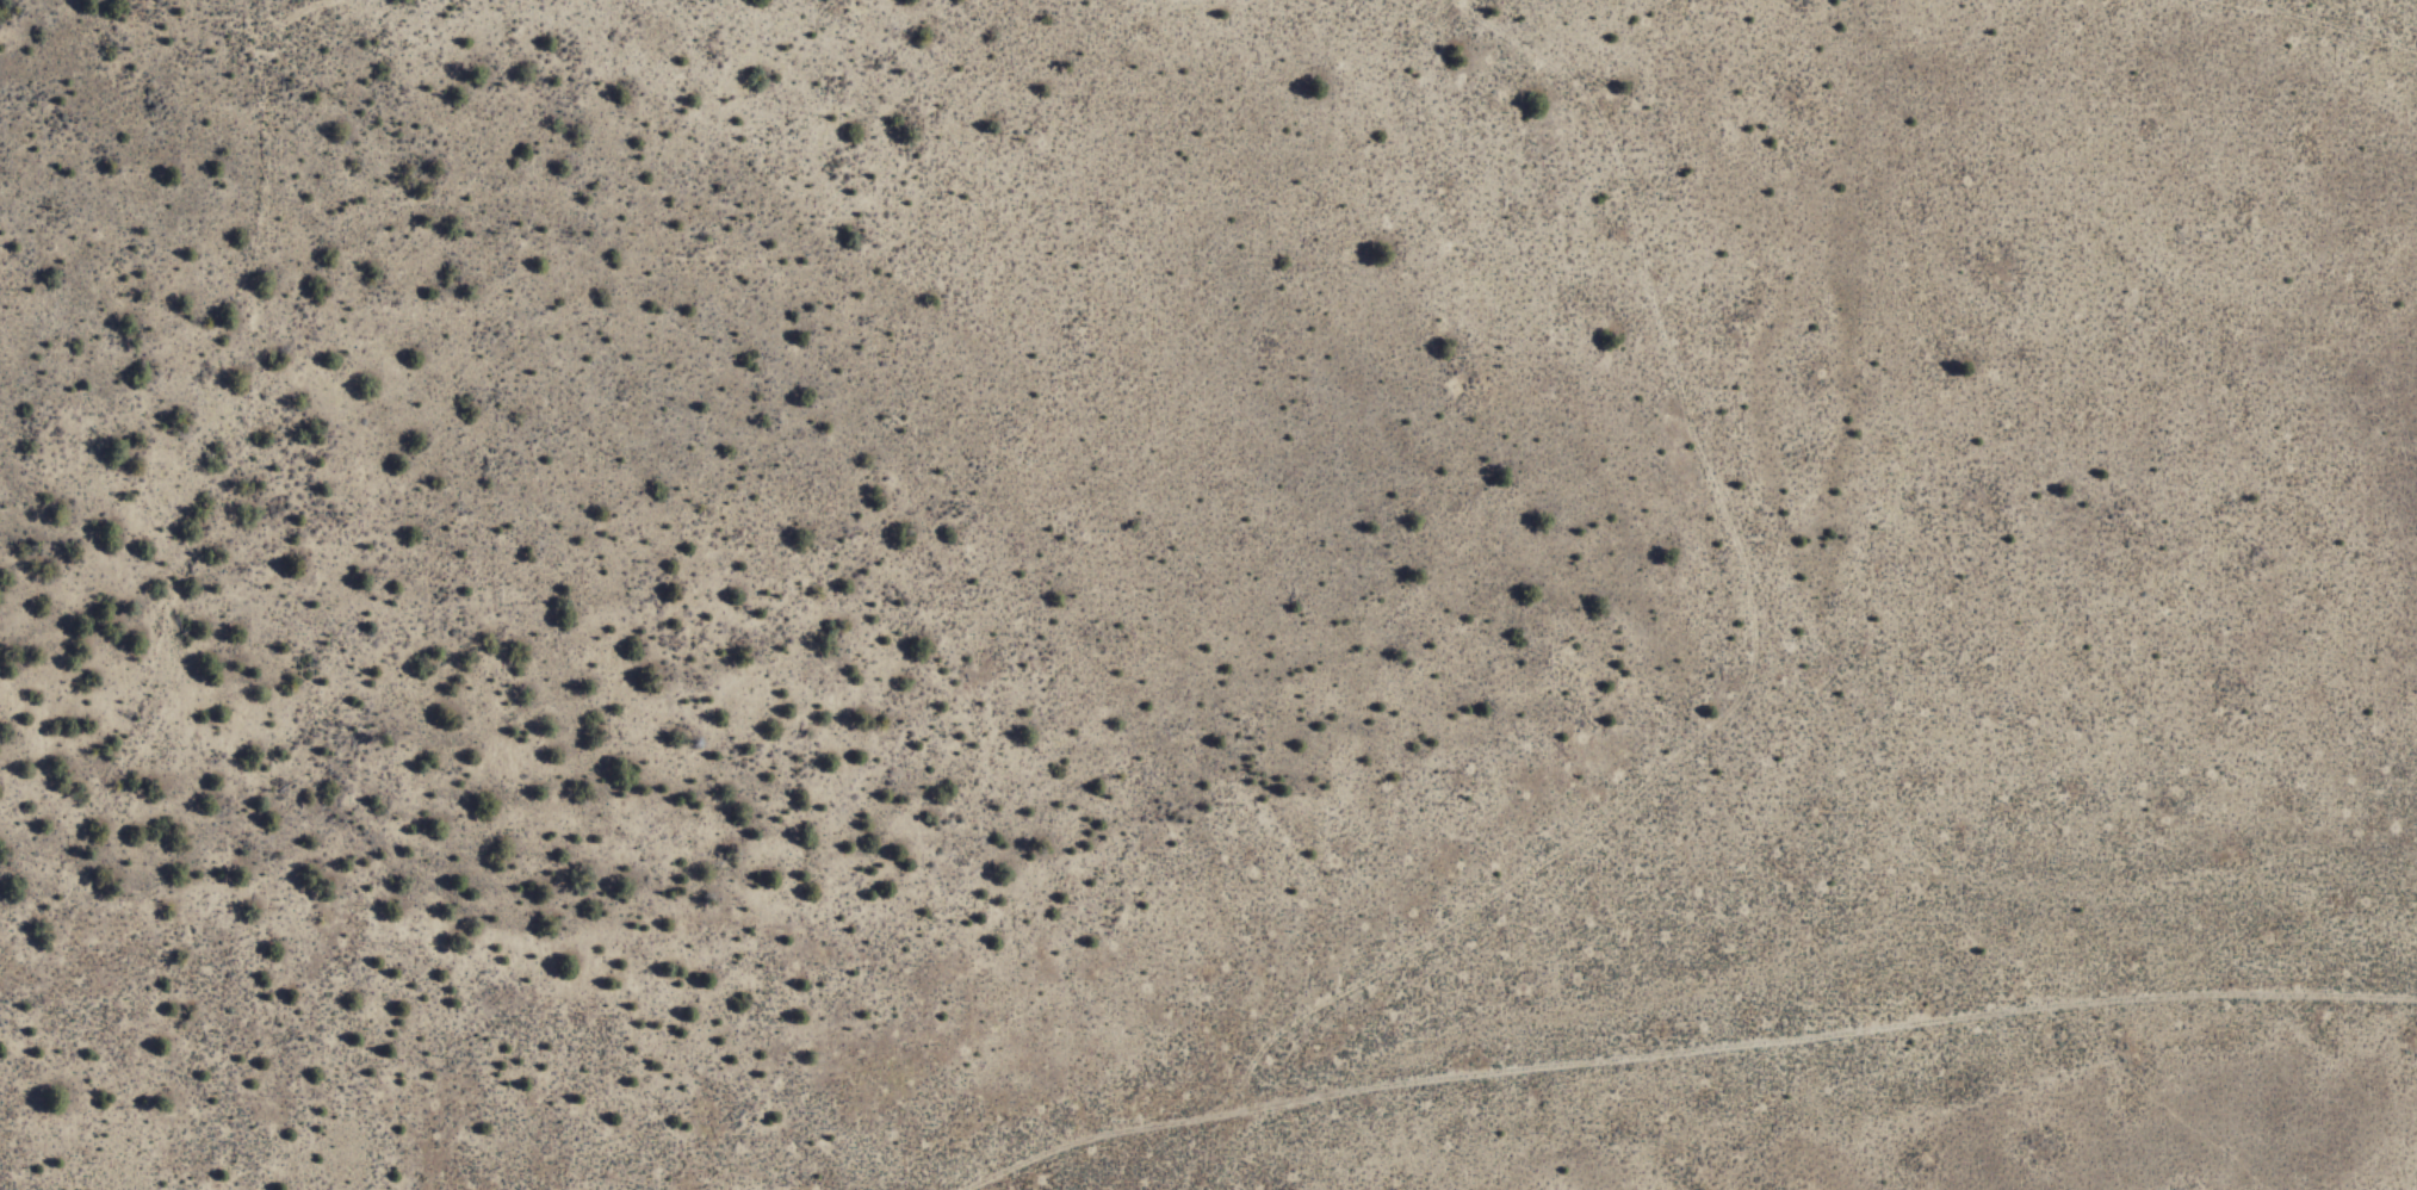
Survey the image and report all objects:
road: (1781, 1028)

